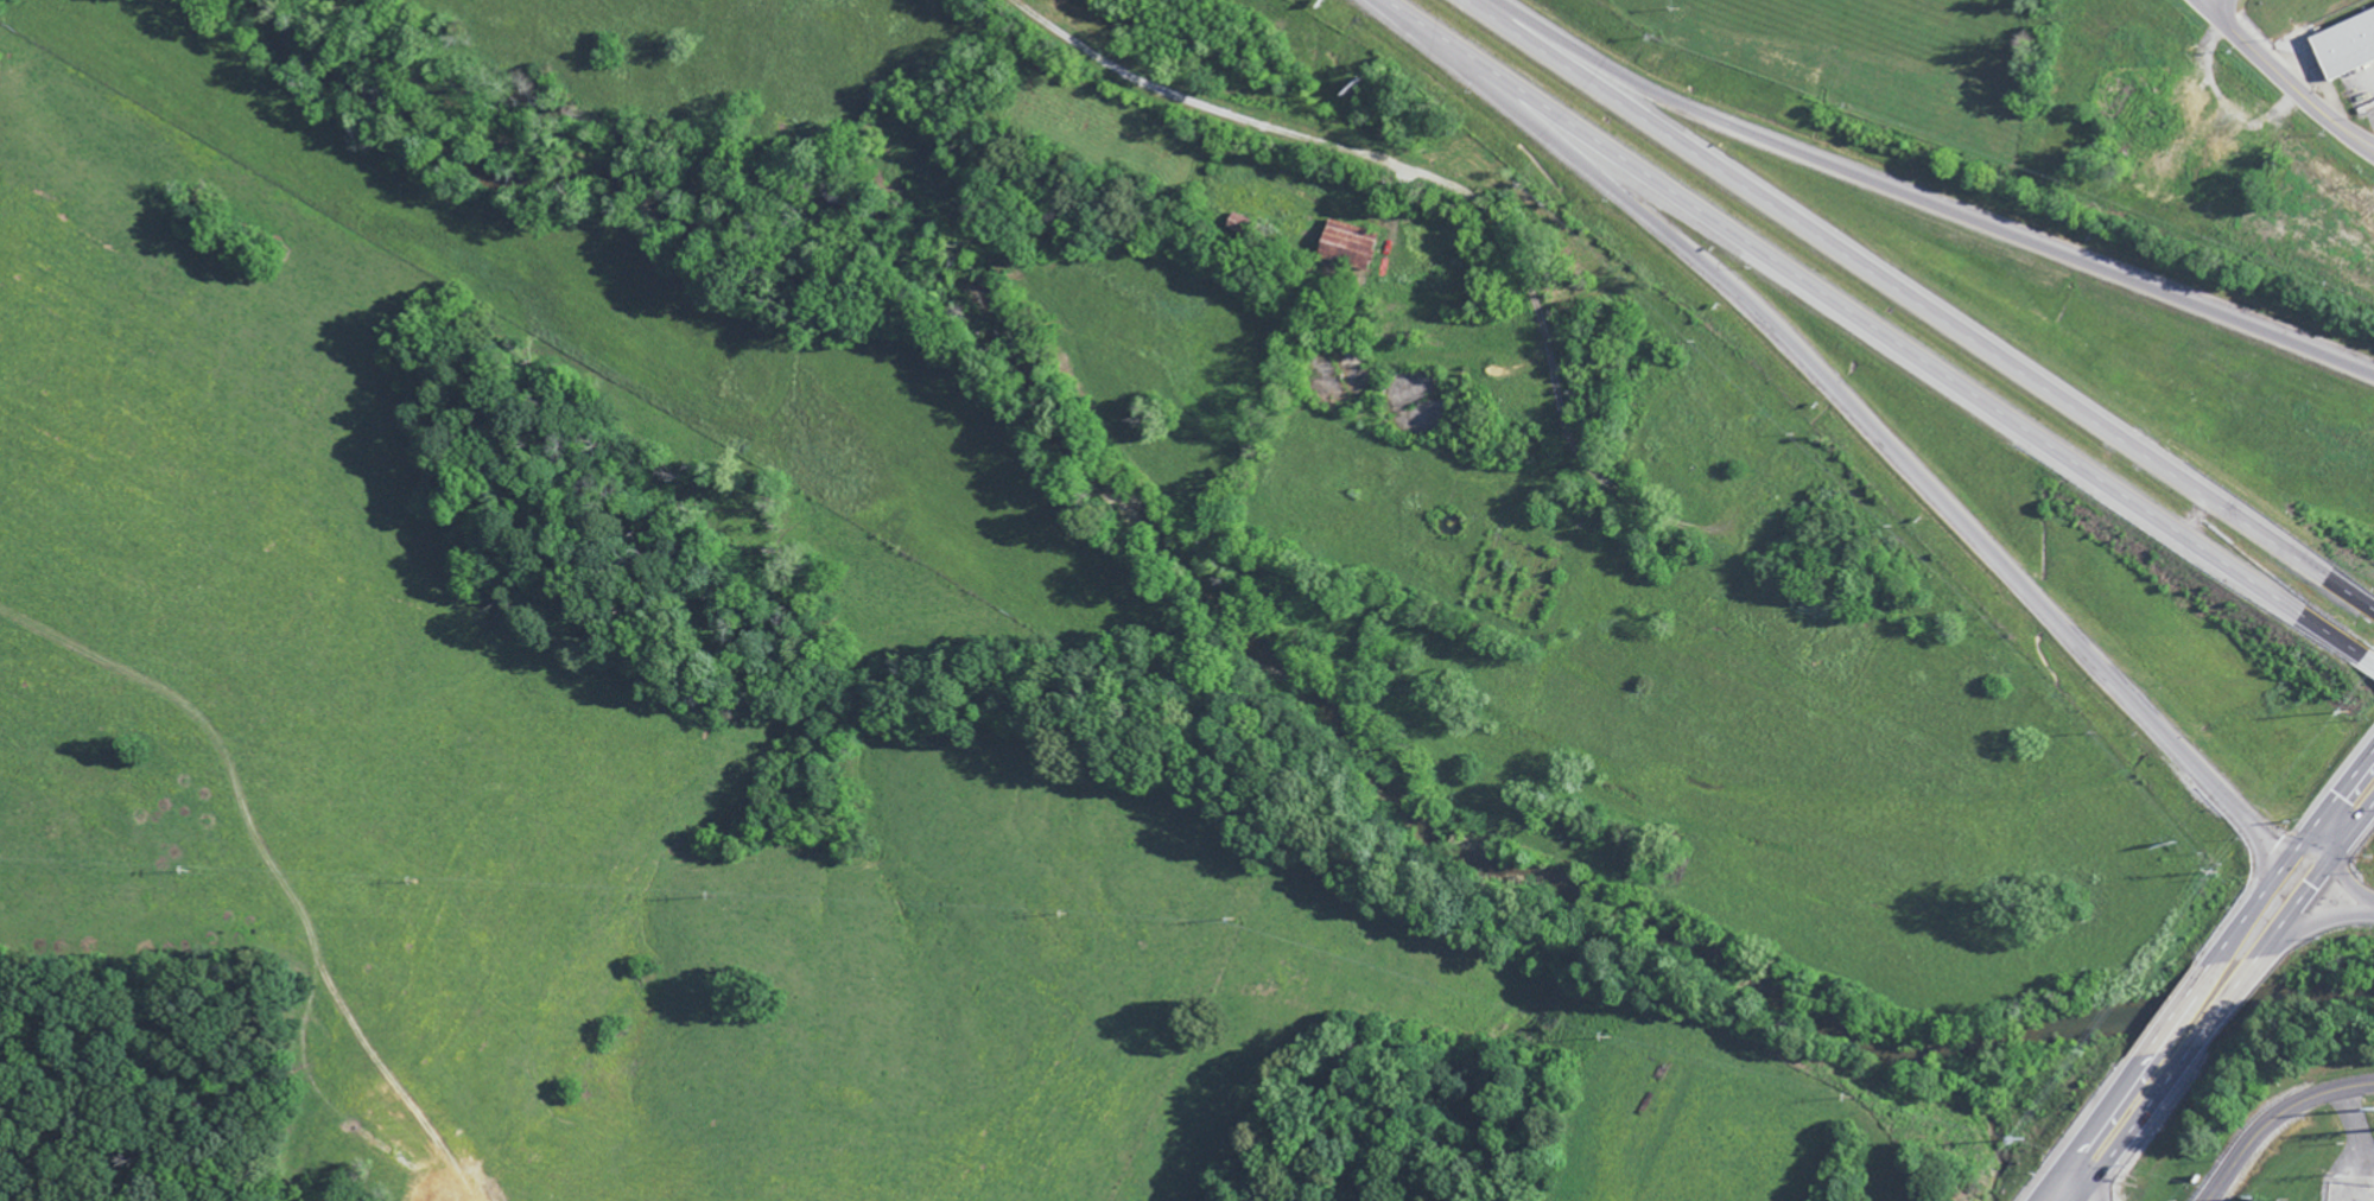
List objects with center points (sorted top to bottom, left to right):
road: (2210, 2)
building: (2342, 49)
road: (2284, 78)
road: (1434, 178)
road: (1924, 206)
building: (1340, 246)
road: (1919, 306)
road: (1878, 329)
road: (1854, 408)
road: (2372, 660)
road: (2353, 834)
traffic signals: (2304, 844)
road: (2316, 851)
traffic signals: (2332, 862)
traffic signals: (2275, 877)
road: (2258, 902)
road: (2317, 926)
road: (2207, 1031)
road: (2280, 1116)
road: (2096, 1119)
road: (2044, 1190)
road: (2064, 1190)
power substation: (2349, 1192)
road: (2209, 1195)

